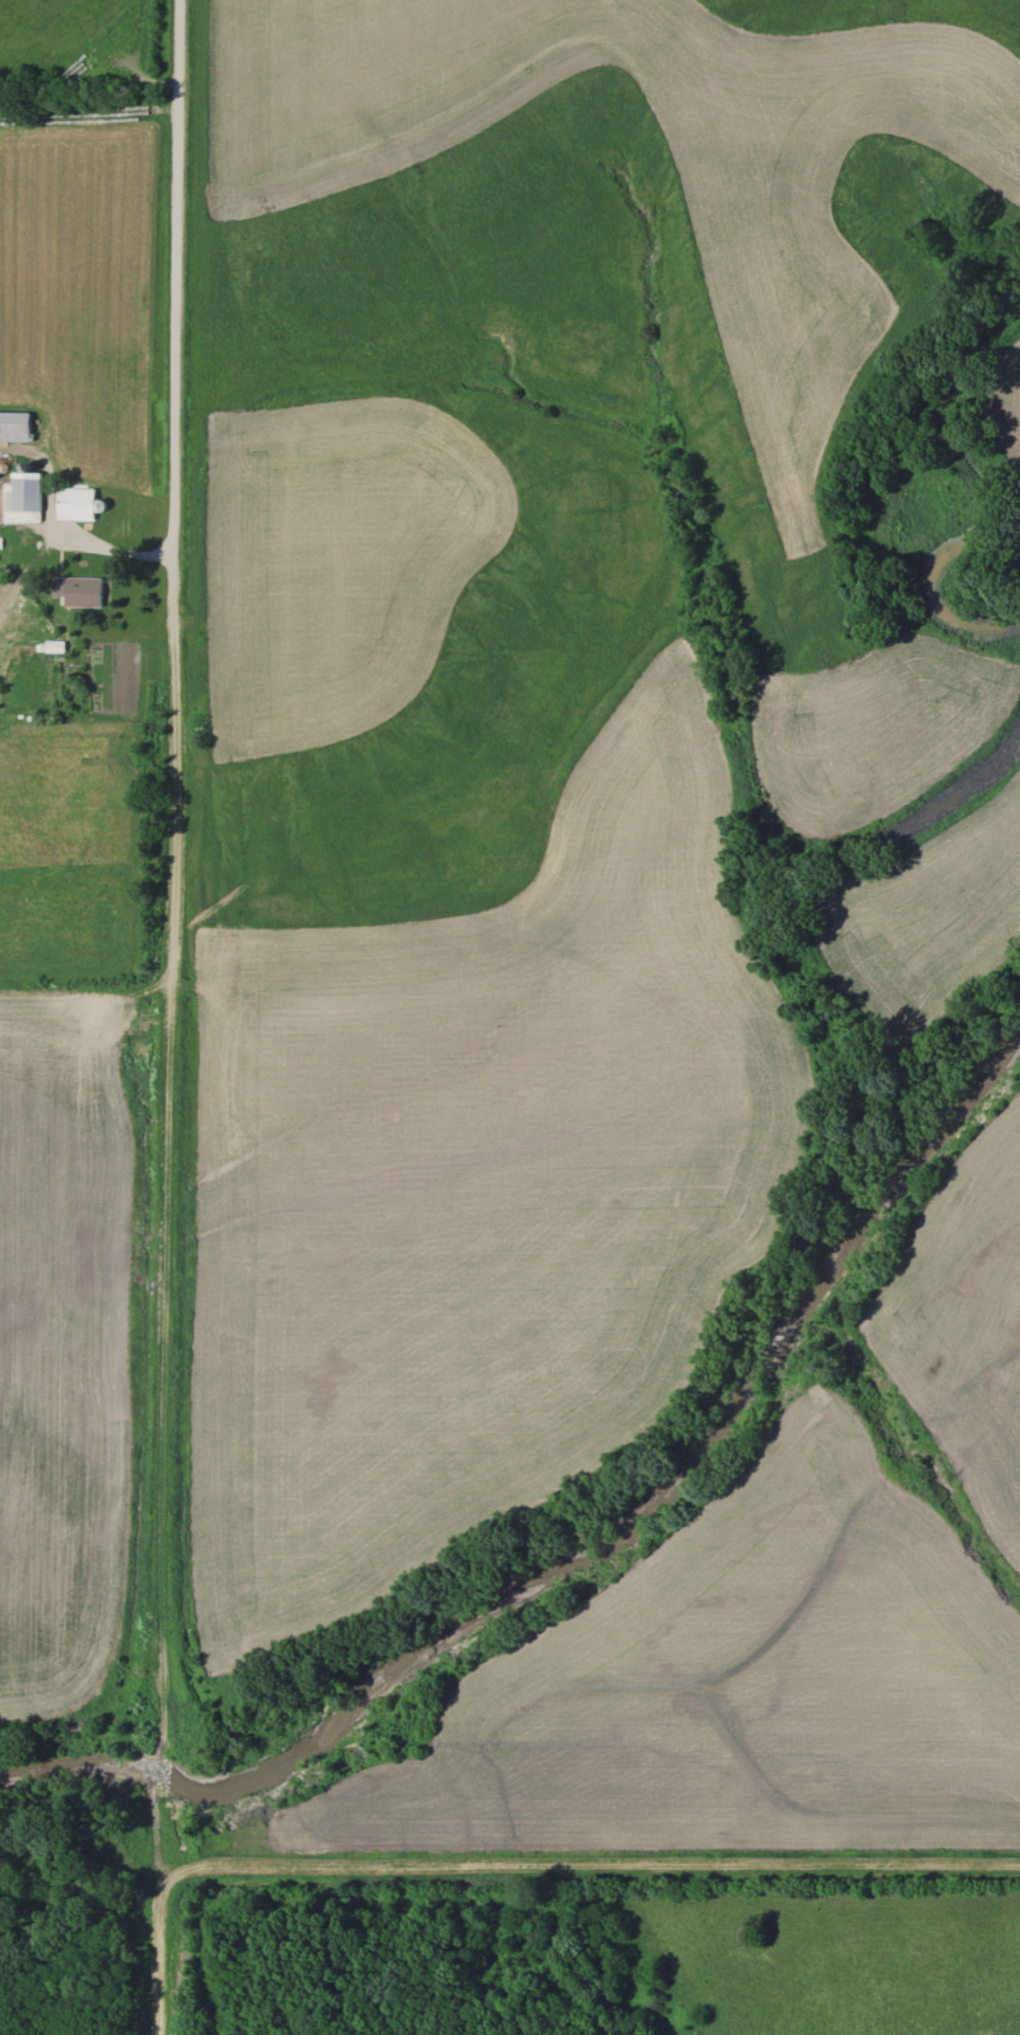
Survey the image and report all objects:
building: (13, 427)
building: (65, 505)
road: (115, 551)
building: (76, 589)
building: (49, 648)
road: (167, 1017)
road: (588, 1867)

